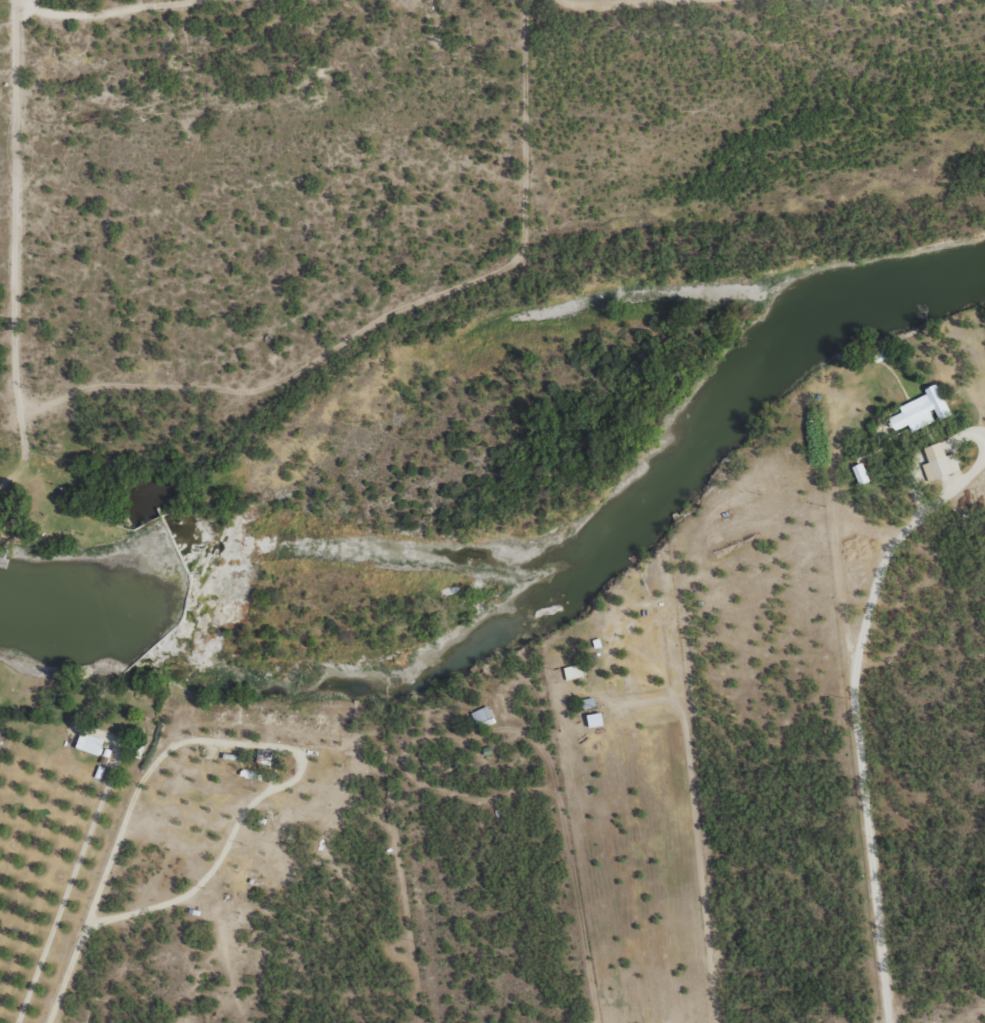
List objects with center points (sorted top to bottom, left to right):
road: (101, 11)
road: (639, 219)
road: (18, 250)
building: (921, 410)
building: (939, 462)
building: (860, 473)
road: (230, 474)
dam: (189, 579)
river: (537, 599)
building: (573, 671)
building: (481, 714)
building: (595, 719)
road: (878, 739)
building: (90, 743)
road: (244, 961)

